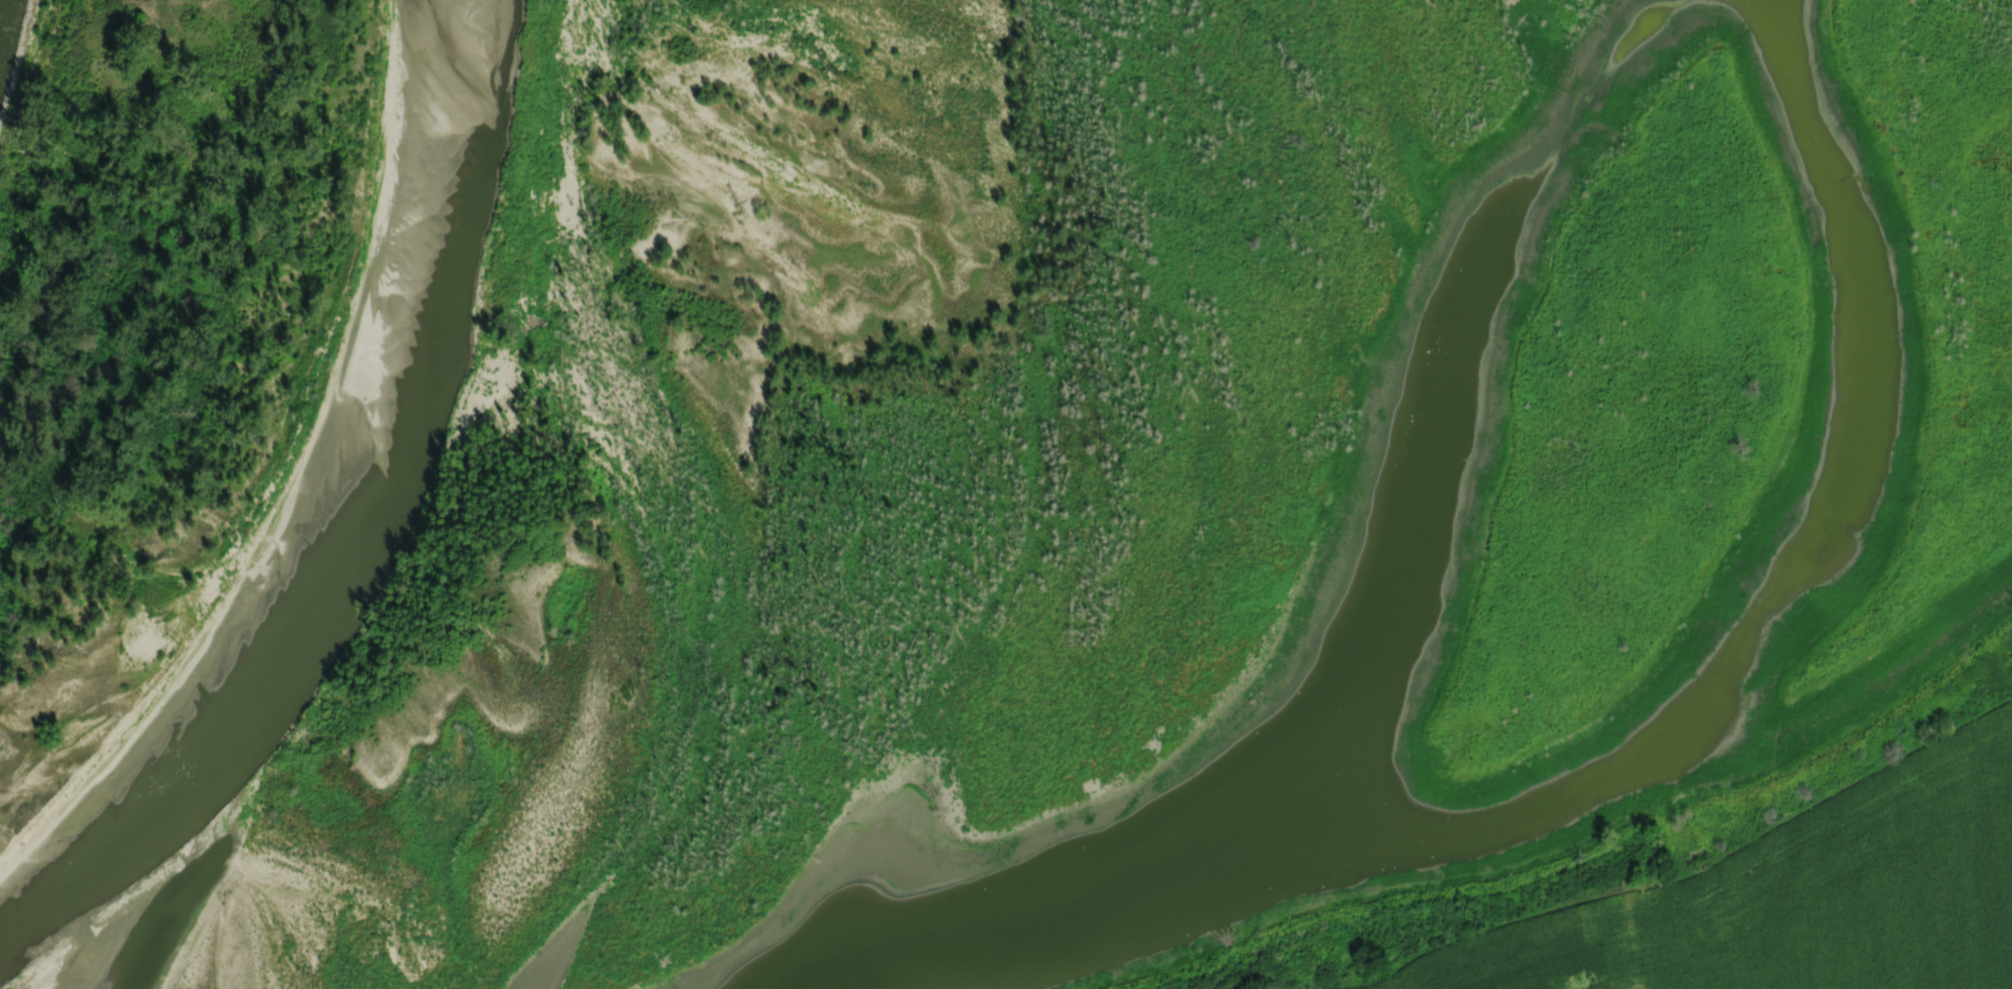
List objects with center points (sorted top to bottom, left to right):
road: (1693, 885)

